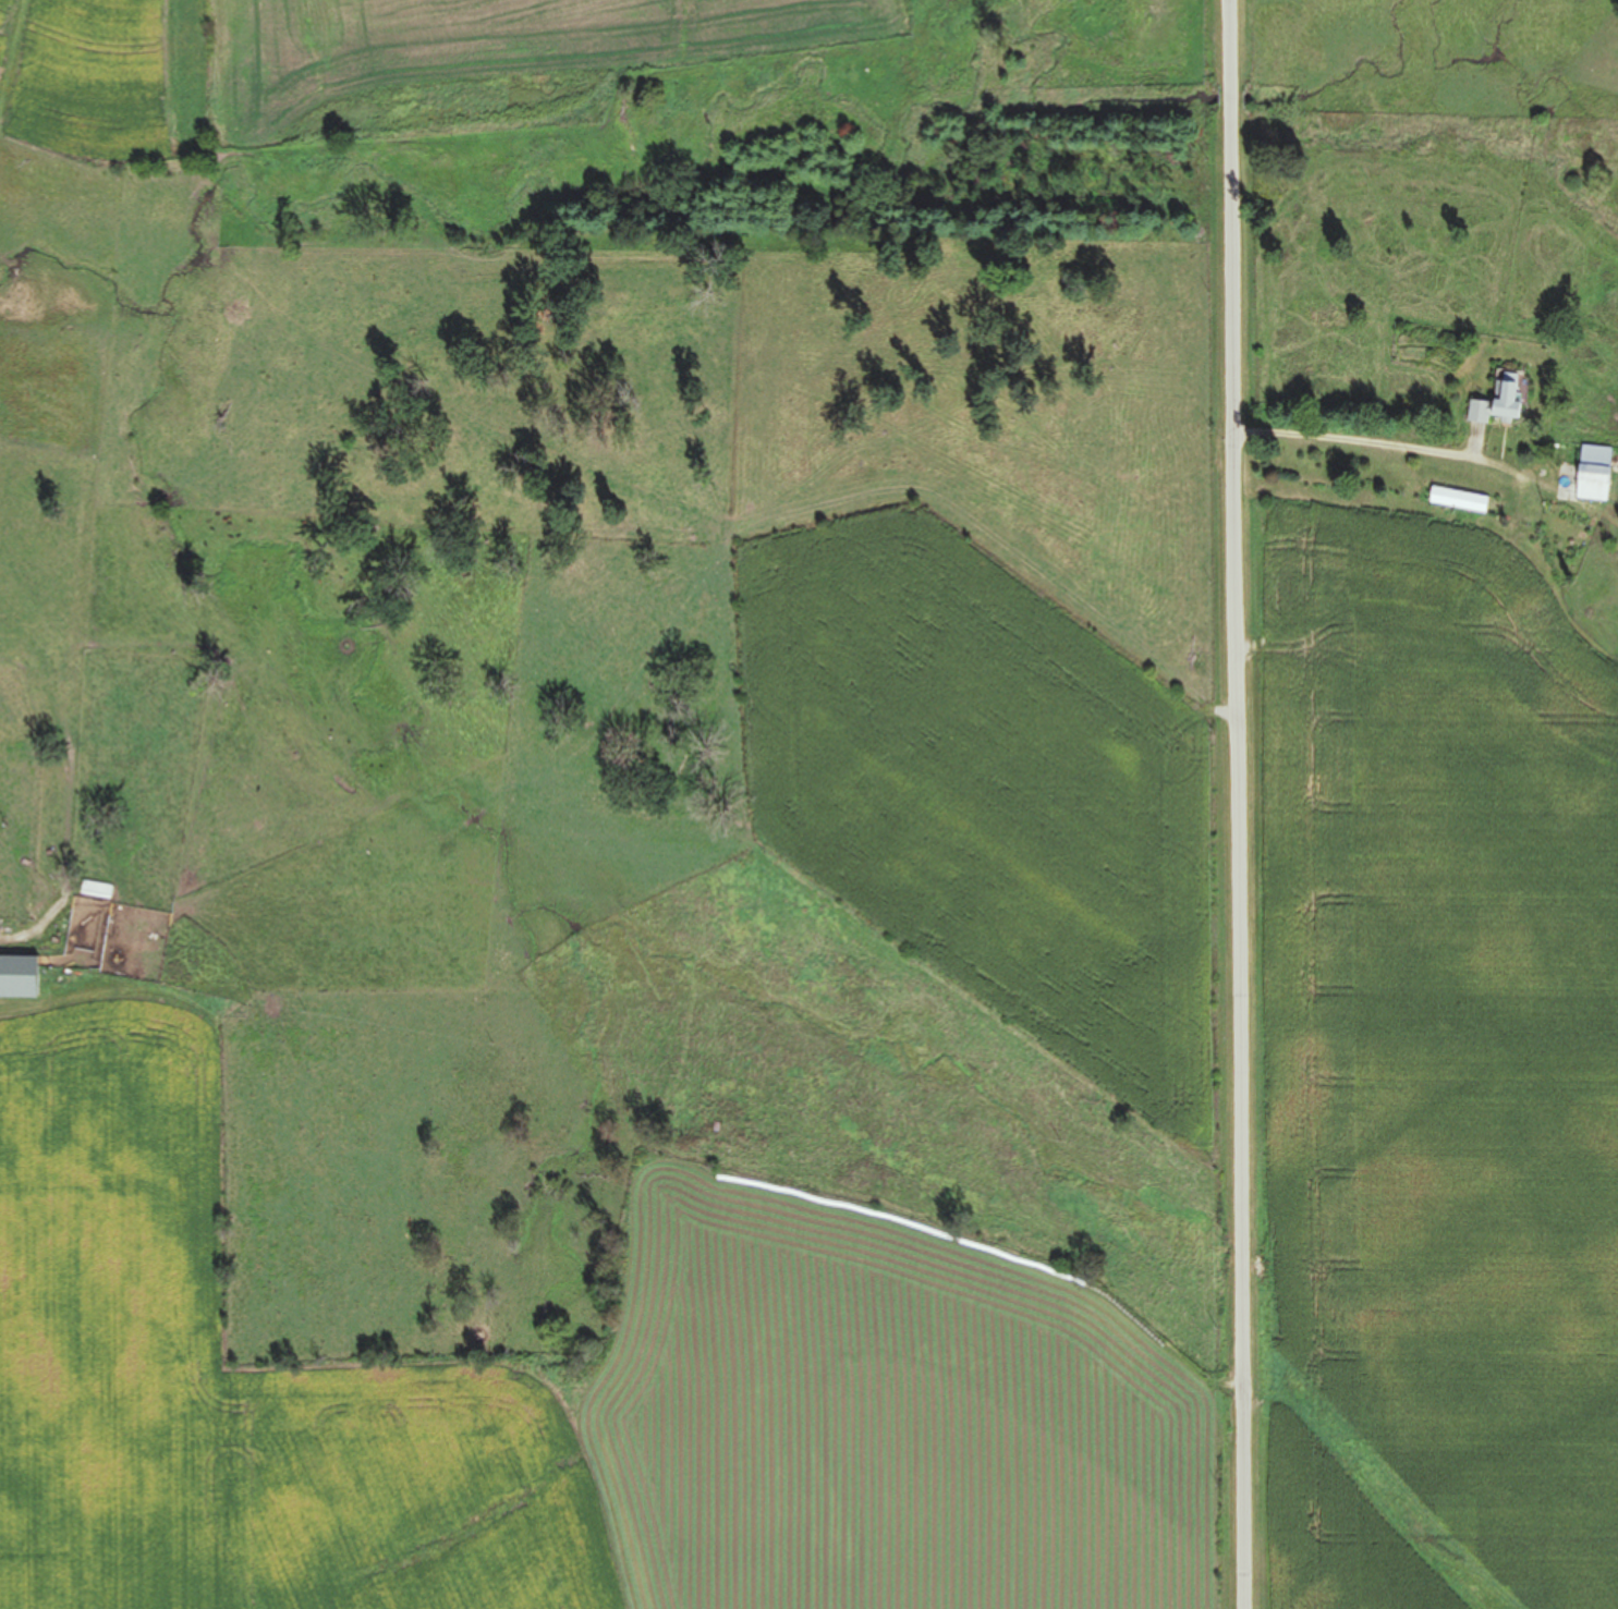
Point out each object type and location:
building: (1498, 401)
road: (1379, 443)
building: (1593, 473)
building: (1458, 499)
road: (1238, 804)
building: (96, 891)

